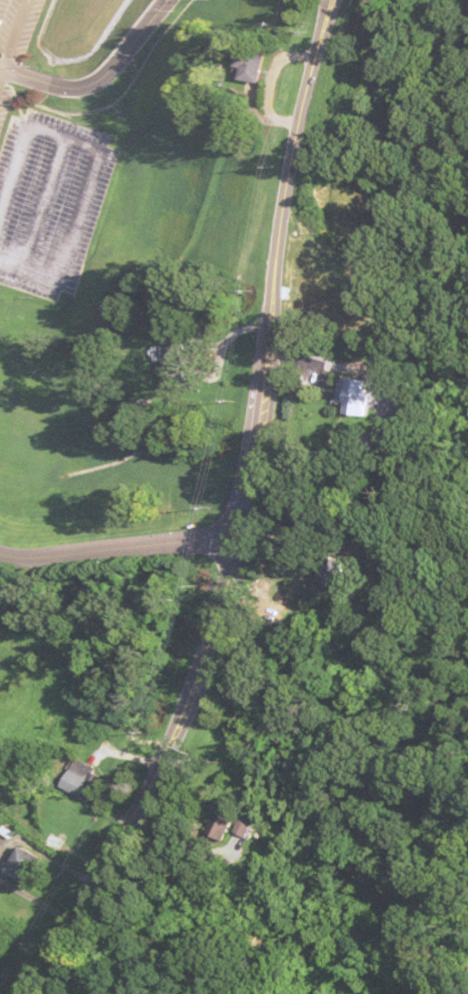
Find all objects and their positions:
building: (259, 67)
road: (96, 79)
building: (178, 366)
building: (360, 397)
road: (212, 516)
road: (104, 550)
building: (251, 828)

